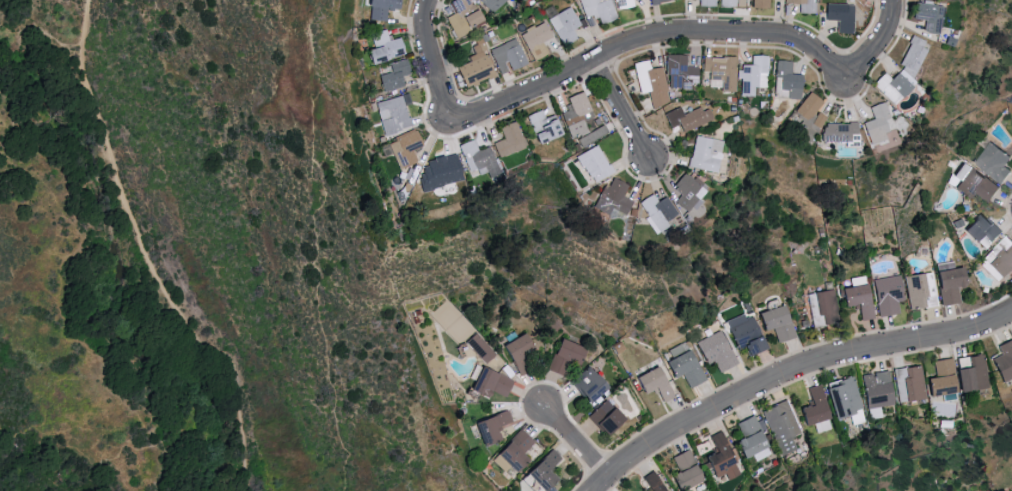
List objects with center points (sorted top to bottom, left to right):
building: (659, 1)
building: (708, 3)
building: (493, 4)
building: (728, 4)
building: (760, 4)
building: (624, 5)
building: (805, 5)
building: (384, 9)
building: (599, 10)
building: (464, 17)
building: (841, 17)
building: (929, 18)
building: (566, 26)
road: (652, 36)
building: (538, 41)
road: (874, 44)
building: (385, 49)
building: (913, 55)
building: (508, 57)
road: (432, 67)
building: (477, 72)
building: (721, 72)
building: (680, 73)
building: (394, 77)
building: (755, 78)
building: (652, 83)
building: (785, 83)
building: (895, 87)
road: (621, 111)
building: (811, 111)
building: (394, 115)
building: (577, 115)
building: (687, 119)
building: (878, 126)
building: (545, 129)
building: (841, 134)
building: (509, 143)
building: (405, 151)
building: (706, 155)
building: (478, 159)
building: (991, 161)
building: (594, 164)
building: (439, 176)
building: (971, 182)
building: (690, 193)
building: (613, 200)
building: (658, 214)
building: (981, 230)
building: (1000, 257)
road: (148, 259)
park: (189, 270)
building: (948, 285)
building: (919, 290)
building: (886, 295)
building: (856, 300)
building: (822, 307)
building: (776, 323)
building: (744, 334)
building: (478, 347)
building: (516, 349)
building: (677, 349)
building: (566, 351)
building: (715, 351)
building: (1004, 360)
building: (684, 367)
road: (791, 373)
building: (972, 374)
building: (940, 379)
building: (489, 383)
building: (652, 383)
building: (586, 384)
building: (908, 384)
building: (876, 389)
building: (844, 399)
building: (813, 407)
building: (604, 417)
building: (781, 426)
building: (821, 426)
building: (490, 427)
building: (750, 440)
road: (577, 443)
building: (513, 452)
building: (720, 458)
building: (542, 470)
building: (683, 471)
building: (651, 482)

